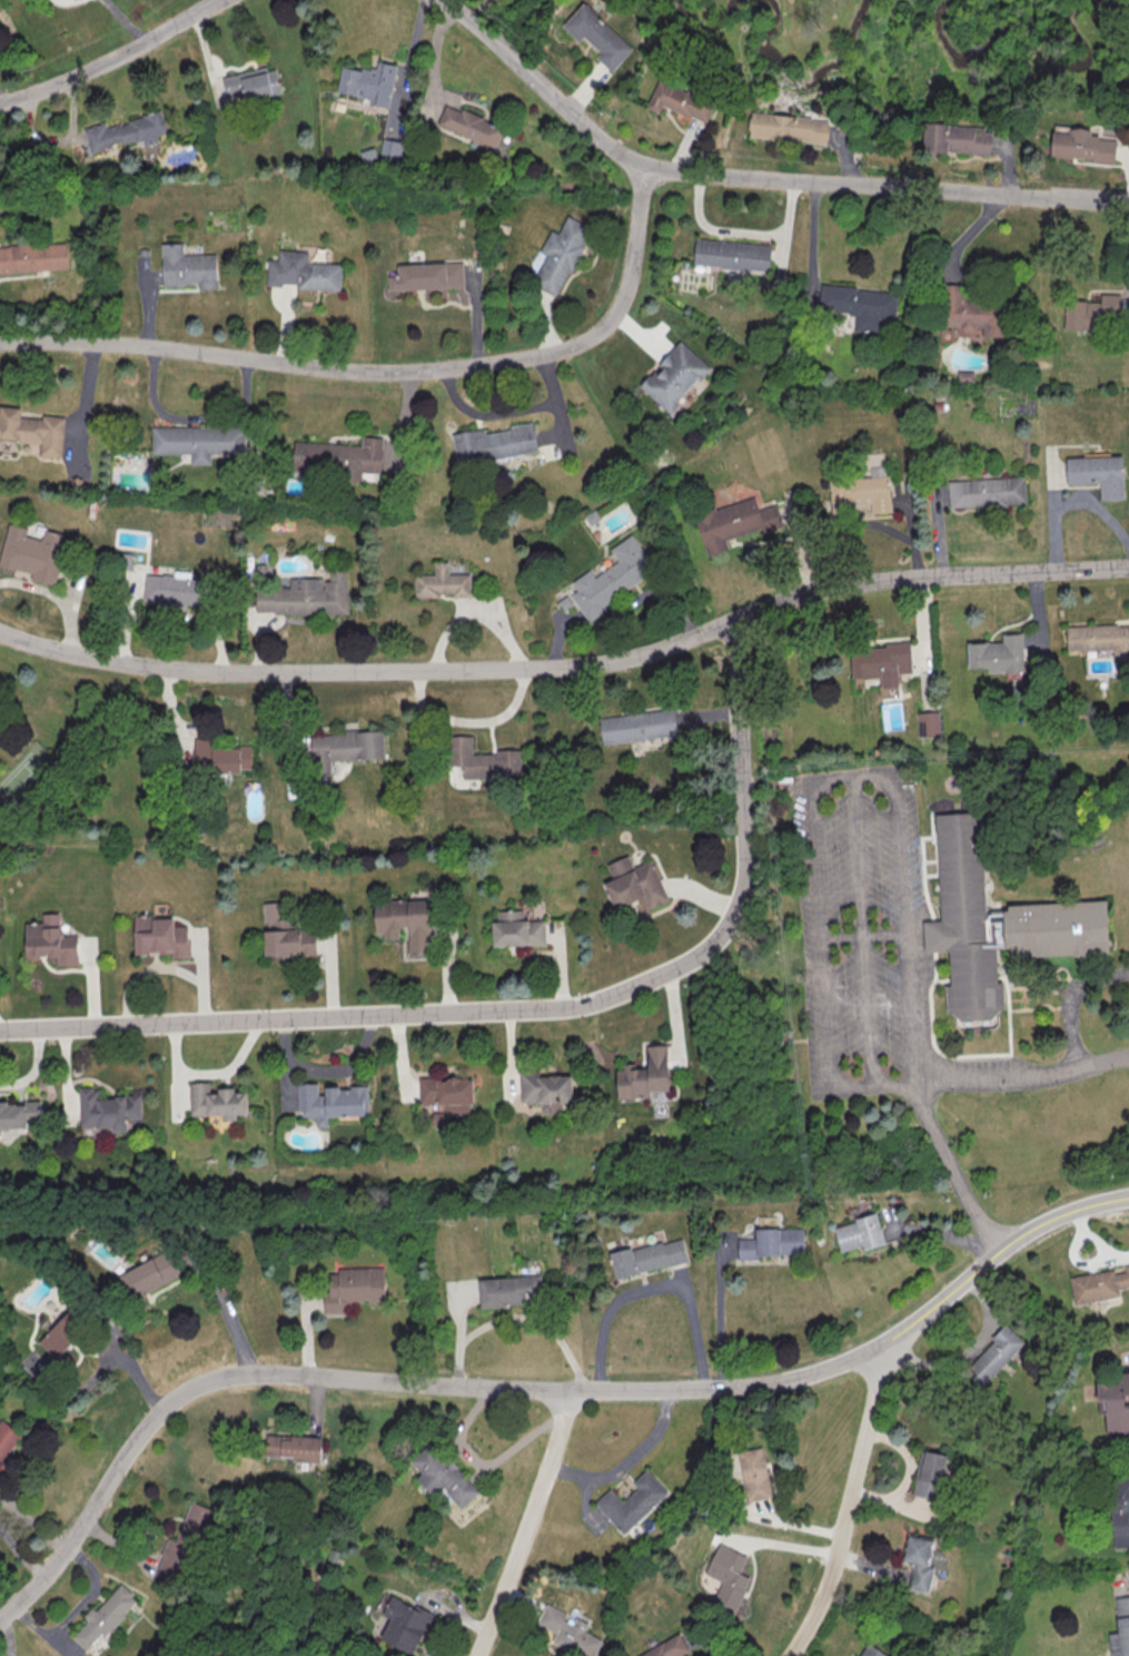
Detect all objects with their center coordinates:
building: (29, 0)
road: (122, 21)
building: (598, 37)
road: (111, 58)
building: (252, 83)
building: (370, 83)
building: (681, 102)
building: (471, 126)
building: (788, 129)
building: (125, 131)
building: (955, 139)
building: (1081, 145)
building: (392, 149)
road: (734, 175)
road: (1108, 200)
road: (743, 231)
building: (562, 255)
building: (733, 256)
building: (33, 258)
building: (188, 268)
building: (304, 273)
building: (428, 277)
building: (859, 306)
building: (971, 312)
building: (1095, 313)
road: (389, 372)
building: (675, 377)
building: (33, 431)
building: (198, 443)
building: (494, 444)
building: (340, 459)
building: (1098, 475)
building: (861, 493)
building: (987, 493)
building: (734, 523)
building: (32, 554)
building: (612, 580)
building: (442, 584)
building: (176, 591)
building: (308, 597)
building: (1099, 639)
building: (998, 653)
building: (881, 663)
road: (568, 667)
road: (170, 720)
road: (467, 722)
building: (928, 723)
building: (637, 728)
building: (345, 750)
building: (220, 759)
building: (483, 761)
road: (815, 791)
building: (633, 883)
building: (404, 923)
building: (1001, 924)
building: (517, 931)
building: (286, 936)
building: (160, 938)
building: (50, 943)
road: (1069, 1003)
road: (529, 1009)
building: (644, 1075)
road: (934, 1082)
building: (545, 1090)
building: (446, 1093)
building: (217, 1103)
building: (333, 1104)
building: (108, 1112)
building: (20, 1113)
building: (859, 1233)
building: (771, 1245)
building: (647, 1260)
building: (148, 1274)
building: (1099, 1284)
building: (353, 1288)
road: (651, 1289)
building: (511, 1290)
road: (225, 1309)
road: (720, 1312)
road: (518, 1318)
building: (60, 1341)
building: (993, 1356)
road: (533, 1391)
building: (1113, 1402)
building: (7, 1440)
building: (294, 1447)
road: (625, 1463)
building: (754, 1473)
building: (443, 1475)
building: (929, 1477)
building: (632, 1501)
road: (844, 1506)
building: (1119, 1511)
road: (524, 1525)
building: (182, 1545)
building: (919, 1561)
building: (726, 1577)
building: (103, 1617)
building: (404, 1624)
building: (1120, 1629)
building: (568, 1632)
building: (669, 1647)
building: (870, 1650)

